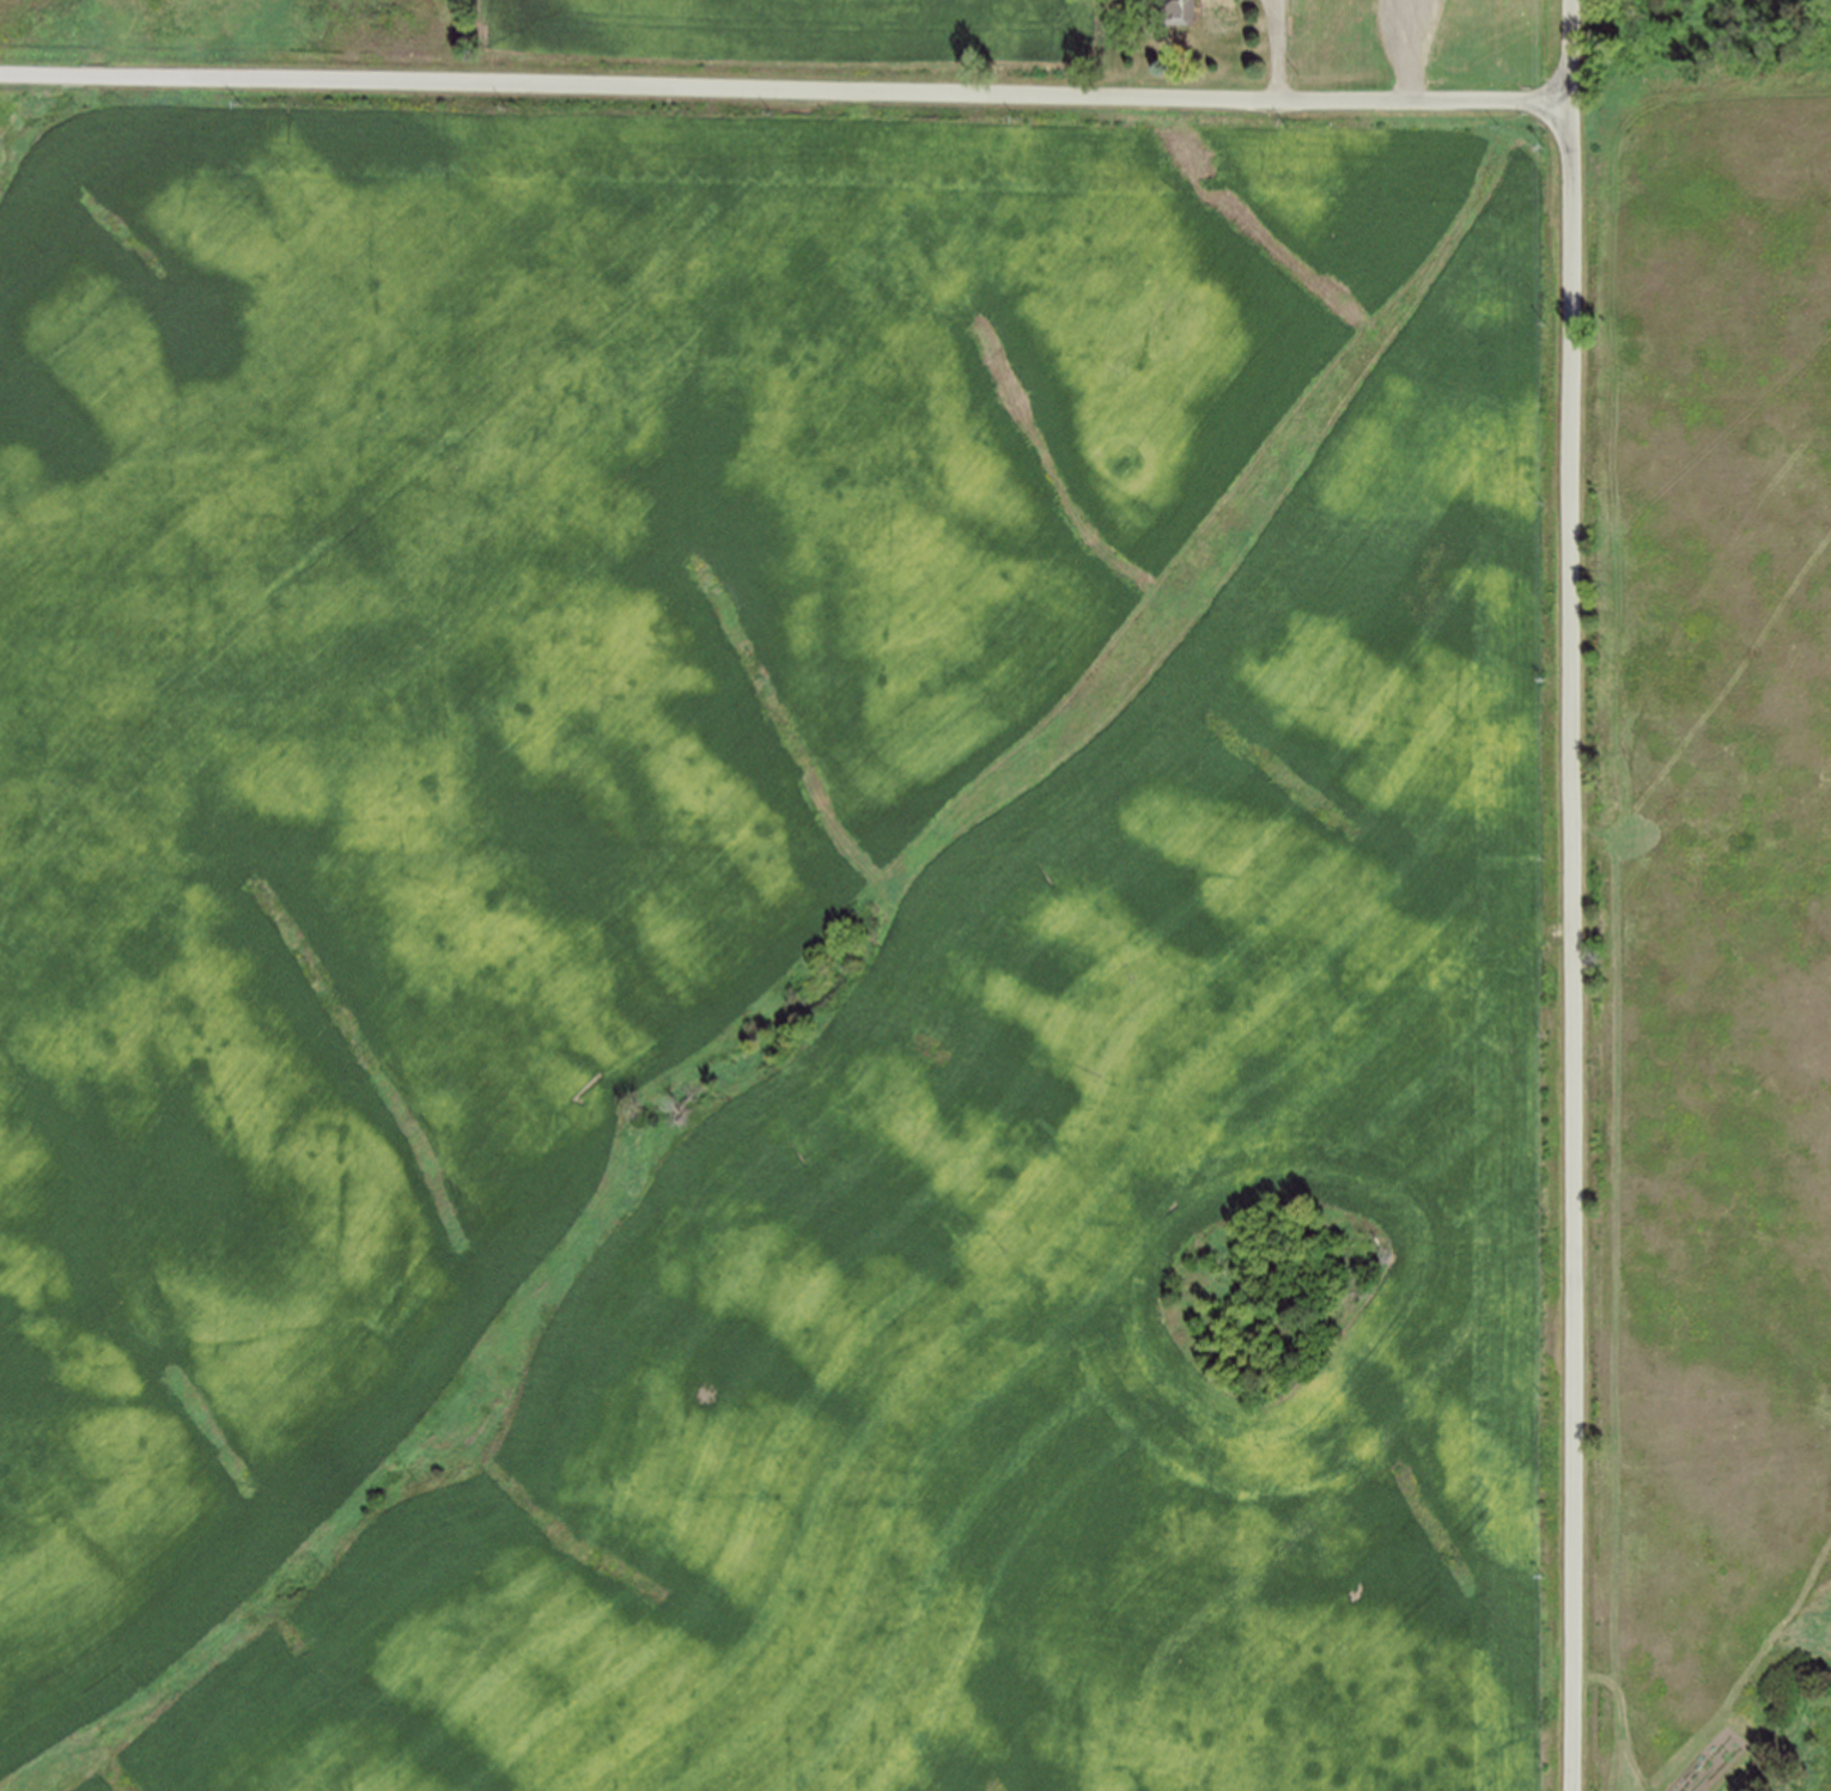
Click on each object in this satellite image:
building: (1174, 10)
road: (1279, 49)
road: (1412, 49)
road: (786, 87)
road: (1577, 895)

